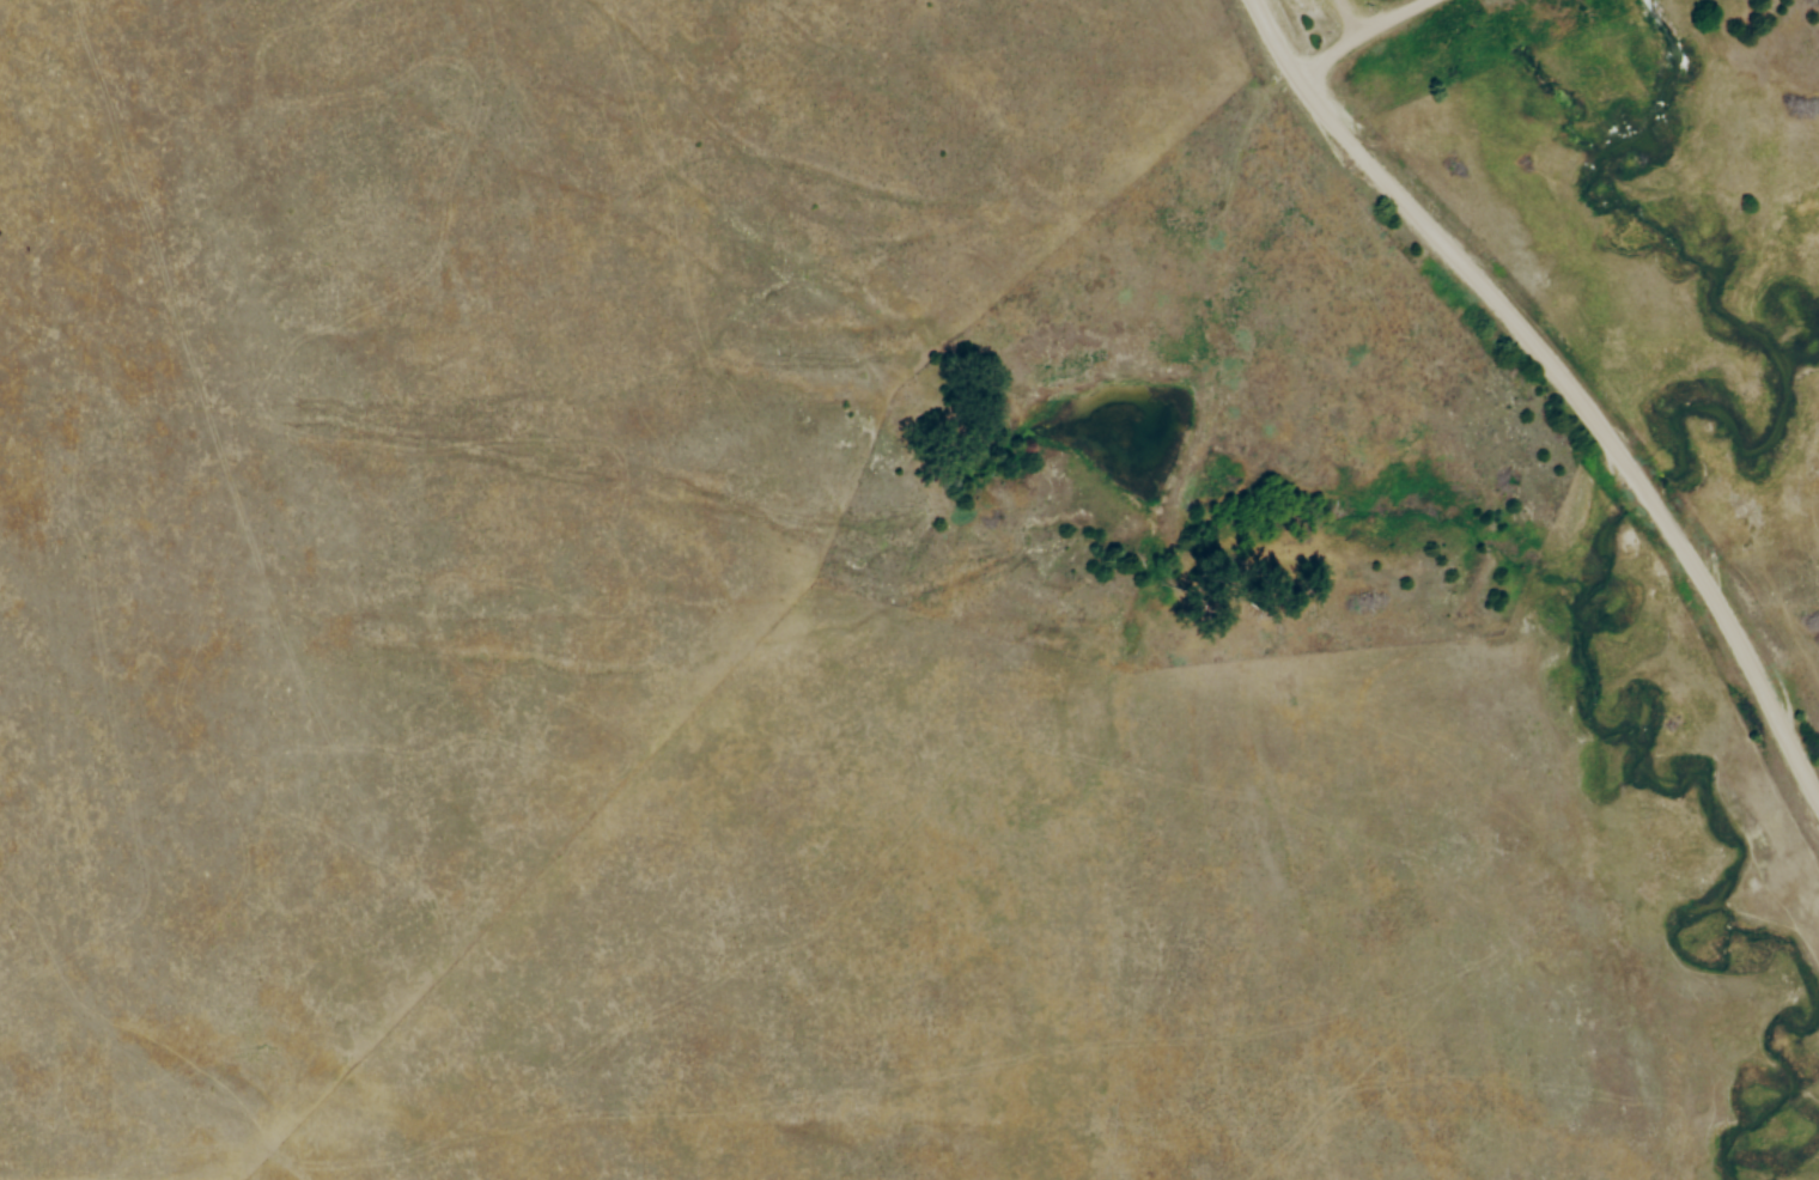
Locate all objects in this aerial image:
road: (1365, 38)
park: (1435, 38)
road: (1568, 375)

